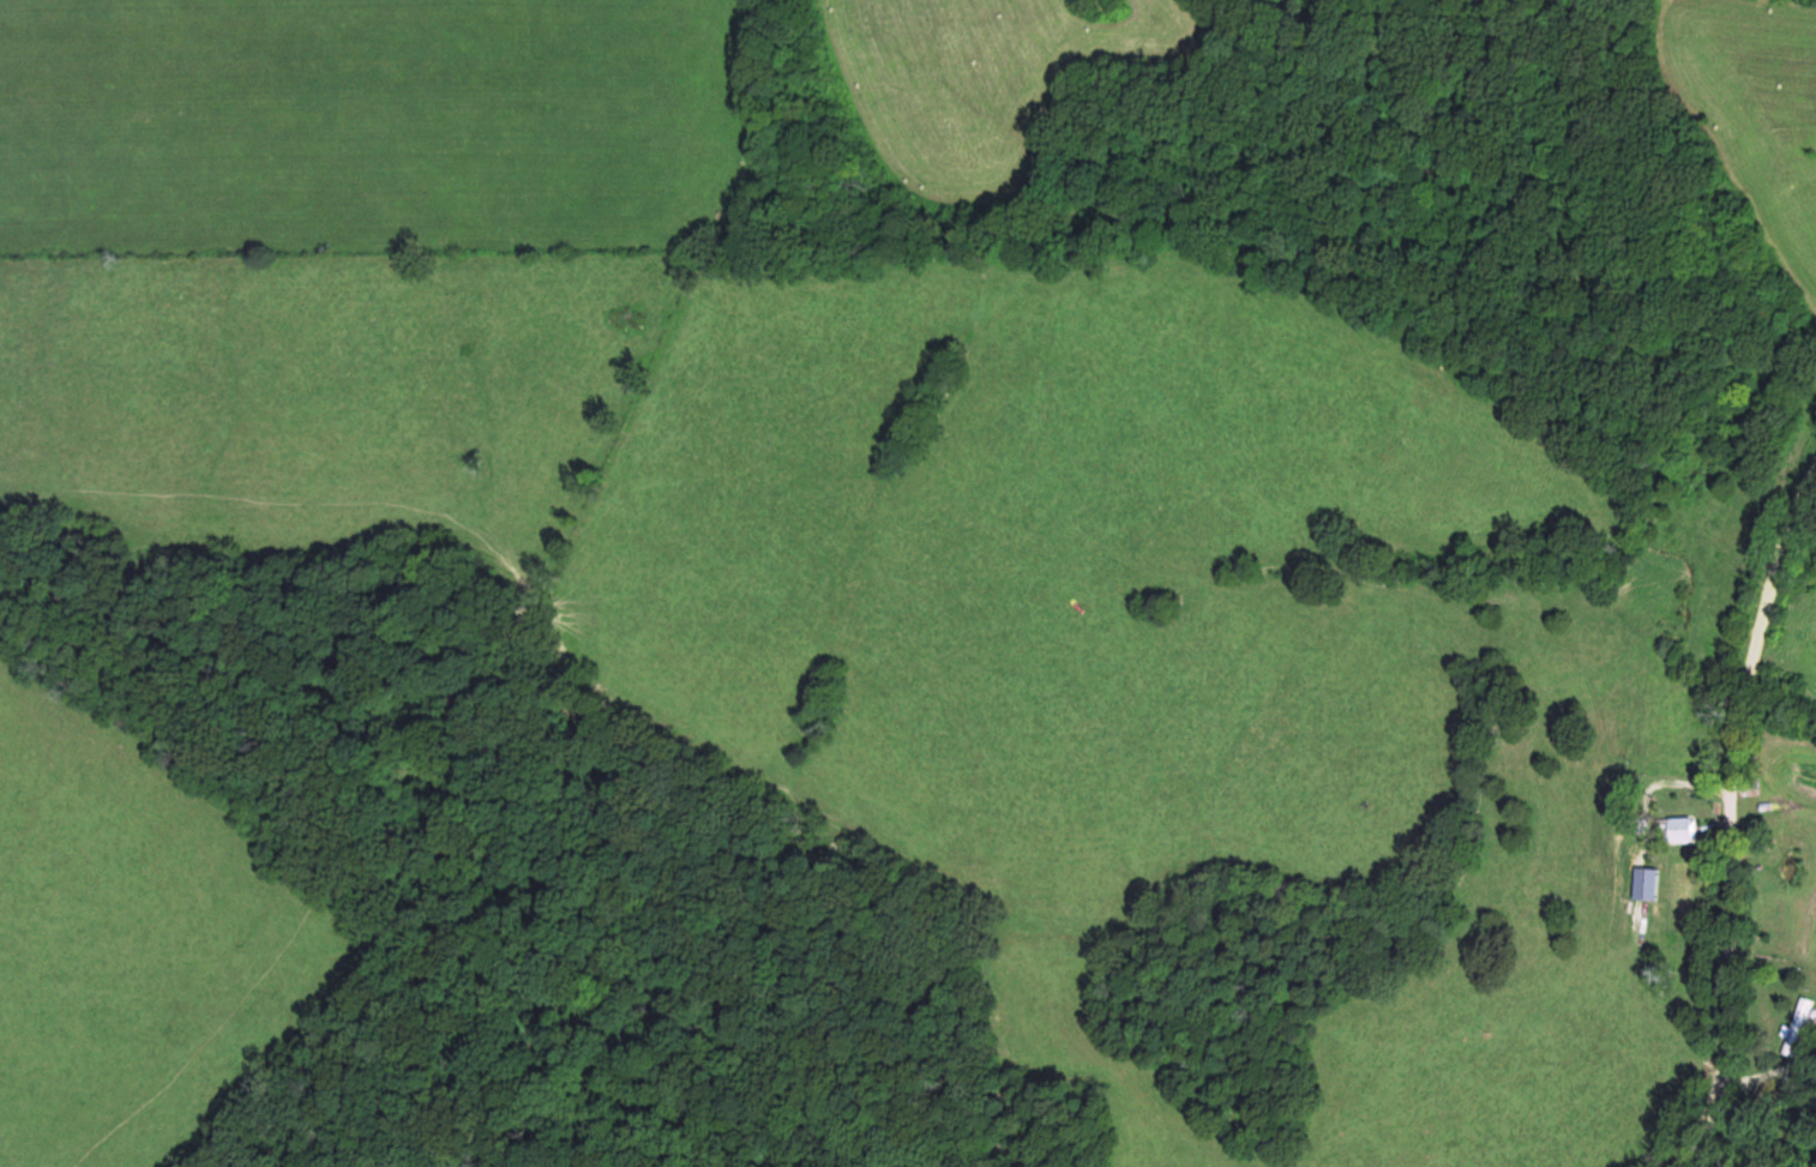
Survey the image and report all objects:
road: (1739, 820)
building: (1685, 828)

